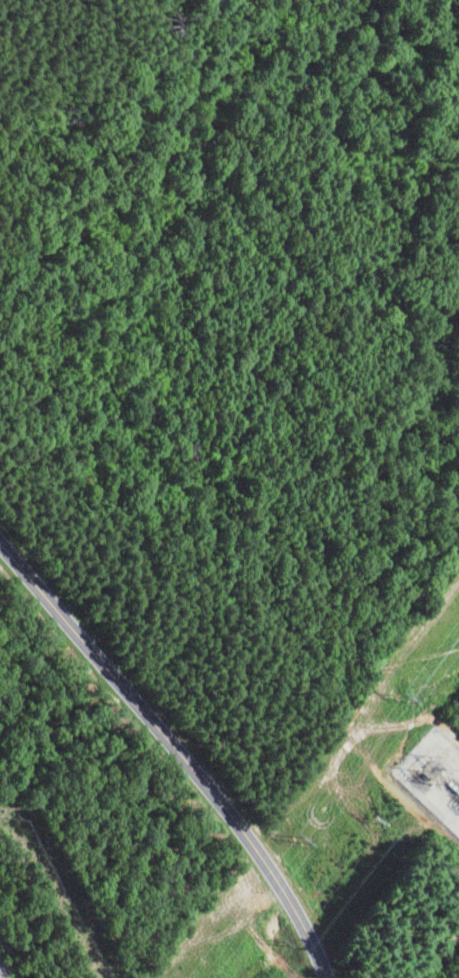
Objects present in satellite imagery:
road: (178, 750)
road: (443, 959)
railway: (7, 966)

